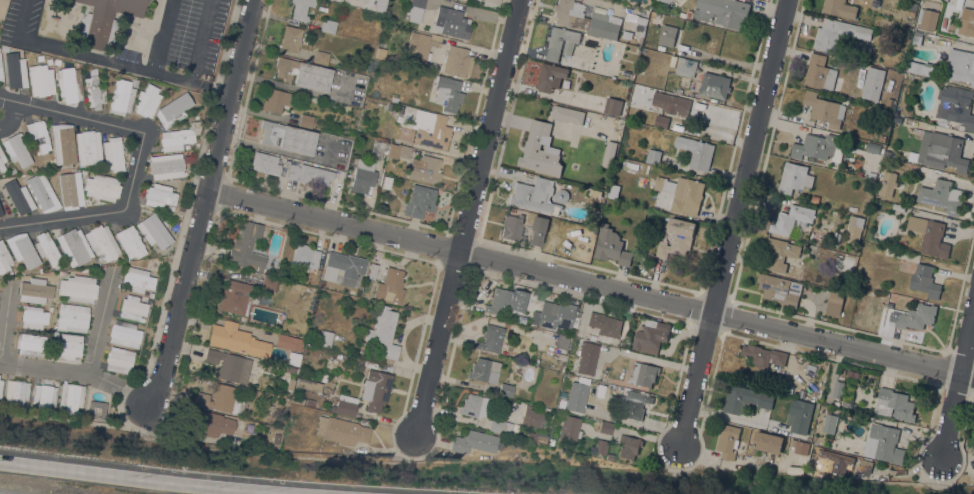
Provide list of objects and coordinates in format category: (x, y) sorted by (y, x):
road: (2, 1)
building: (664, 1)
building: (379, 5)
building: (840, 8)
building: (301, 9)
park: (3, 10)
building: (415, 10)
building: (723, 12)
building: (911, 12)
building: (686, 14)
building: (927, 18)
building: (584, 19)
building: (105, 20)
building: (451, 21)
building: (966, 22)
building: (328, 26)
building: (838, 34)
building: (668, 35)
building: (290, 37)
building: (916, 39)
building: (560, 42)
building: (421, 45)
building: (321, 57)
building: (457, 61)
building: (960, 65)
building: (685, 67)
building: (917, 67)
building: (1, 70)
building: (14, 71)
road: (156, 71)
building: (820, 72)
building: (303, 73)
building: (626, 73)
building: (550, 76)
building: (41, 80)
building: (69, 84)
building: (715, 85)
building: (93, 89)
building: (448, 93)
building: (122, 97)
building: (147, 100)
building: (276, 100)
building: (955, 105)
building: (613, 106)
building: (677, 106)
building: (824, 109)
building: (173, 110)
road: (71, 112)
building: (567, 114)
road: (11, 115)
building: (306, 120)
building: (661, 121)
building: (430, 128)
building: (38, 134)
building: (179, 136)
building: (288, 137)
building: (882, 138)
building: (63, 143)
building: (379, 144)
building: (88, 147)
building: (818, 147)
building: (873, 148)
building: (17, 149)
building: (541, 150)
building: (398, 151)
building: (696, 151)
building: (942, 151)
building: (609, 153)
building: (887, 153)
building: (113, 154)
building: (653, 156)
building: (2, 160)
building: (265, 163)
building: (166, 166)
building: (425, 169)
road: (134, 170)
building: (309, 174)
building: (363, 176)
building: (794, 178)
building: (386, 181)
building: (660, 183)
building: (887, 183)
building: (102, 186)
building: (70, 190)
building: (43, 194)
building: (159, 195)
building: (534, 195)
building: (941, 195)
building: (687, 196)
building: (19, 198)
building: (419, 201)
building: (3, 203)
road: (204, 203)
building: (898, 206)
road: (162, 210)
road: (61, 217)
road: (467, 217)
building: (791, 218)
road: (731, 223)
building: (512, 228)
building: (854, 228)
building: (153, 230)
road: (181, 230)
building: (819, 235)
building: (929, 235)
building: (537, 237)
building: (677, 237)
building: (130, 241)
building: (102, 242)
building: (74, 246)
building: (247, 246)
building: (611, 246)
building: (47, 247)
building: (23, 249)
building: (887, 251)
building: (779, 253)
building: (304, 257)
building: (4, 258)
building: (343, 267)
building: (372, 270)
building: (137, 280)
building: (924, 280)
building: (268, 283)
building: (321, 283)
building: (393, 284)
road: (590, 285)
building: (299, 286)
building: (78, 288)
building: (34, 289)
building: (308, 289)
building: (779, 289)
building: (235, 297)
building: (829, 299)
building: (499, 300)
building: (132, 307)
building: (556, 315)
building: (917, 316)
building: (33, 317)
building: (73, 317)
building: (521, 319)
building: (605, 324)
road: (99, 325)
building: (383, 332)
building: (54, 333)
building: (124, 334)
building: (651, 336)
building: (490, 337)
building: (591, 337)
building: (325, 338)
building: (236, 339)
building: (563, 342)
building: (294, 343)
building: (30, 344)
building: (66, 346)
building: (763, 355)
building: (561, 356)
building: (293, 358)
building: (587, 358)
building: (119, 360)
building: (229, 365)
building: (290, 369)
building: (484, 370)
building: (850, 372)
road: (81, 373)
building: (643, 373)
building: (856, 374)
road: (956, 382)
building: (289, 383)
building: (308, 384)
building: (1, 387)
building: (838, 388)
building: (375, 389)
building: (505, 389)
building: (17, 395)
building: (44, 396)
building: (71, 396)
building: (577, 396)
building: (745, 398)
building: (221, 399)
building: (297, 399)
building: (309, 402)
building: (633, 404)
building: (894, 404)
building: (472, 405)
building: (850, 405)
building: (344, 407)
building: (97, 409)
building: (829, 409)
building: (268, 412)
building: (799, 415)
building: (532, 417)
road: (67, 419)
building: (292, 419)
building: (769, 420)
building: (241, 423)
building: (829, 423)
building: (213, 424)
building: (500, 426)
building: (605, 427)
building: (569, 428)
building: (341, 430)
building: (473, 441)
building: (727, 441)
building: (768, 442)
building: (883, 444)
building: (629, 445)
building: (600, 446)
building: (799, 446)
building: (834, 462)
building: (864, 465)
road: (143, 480)

